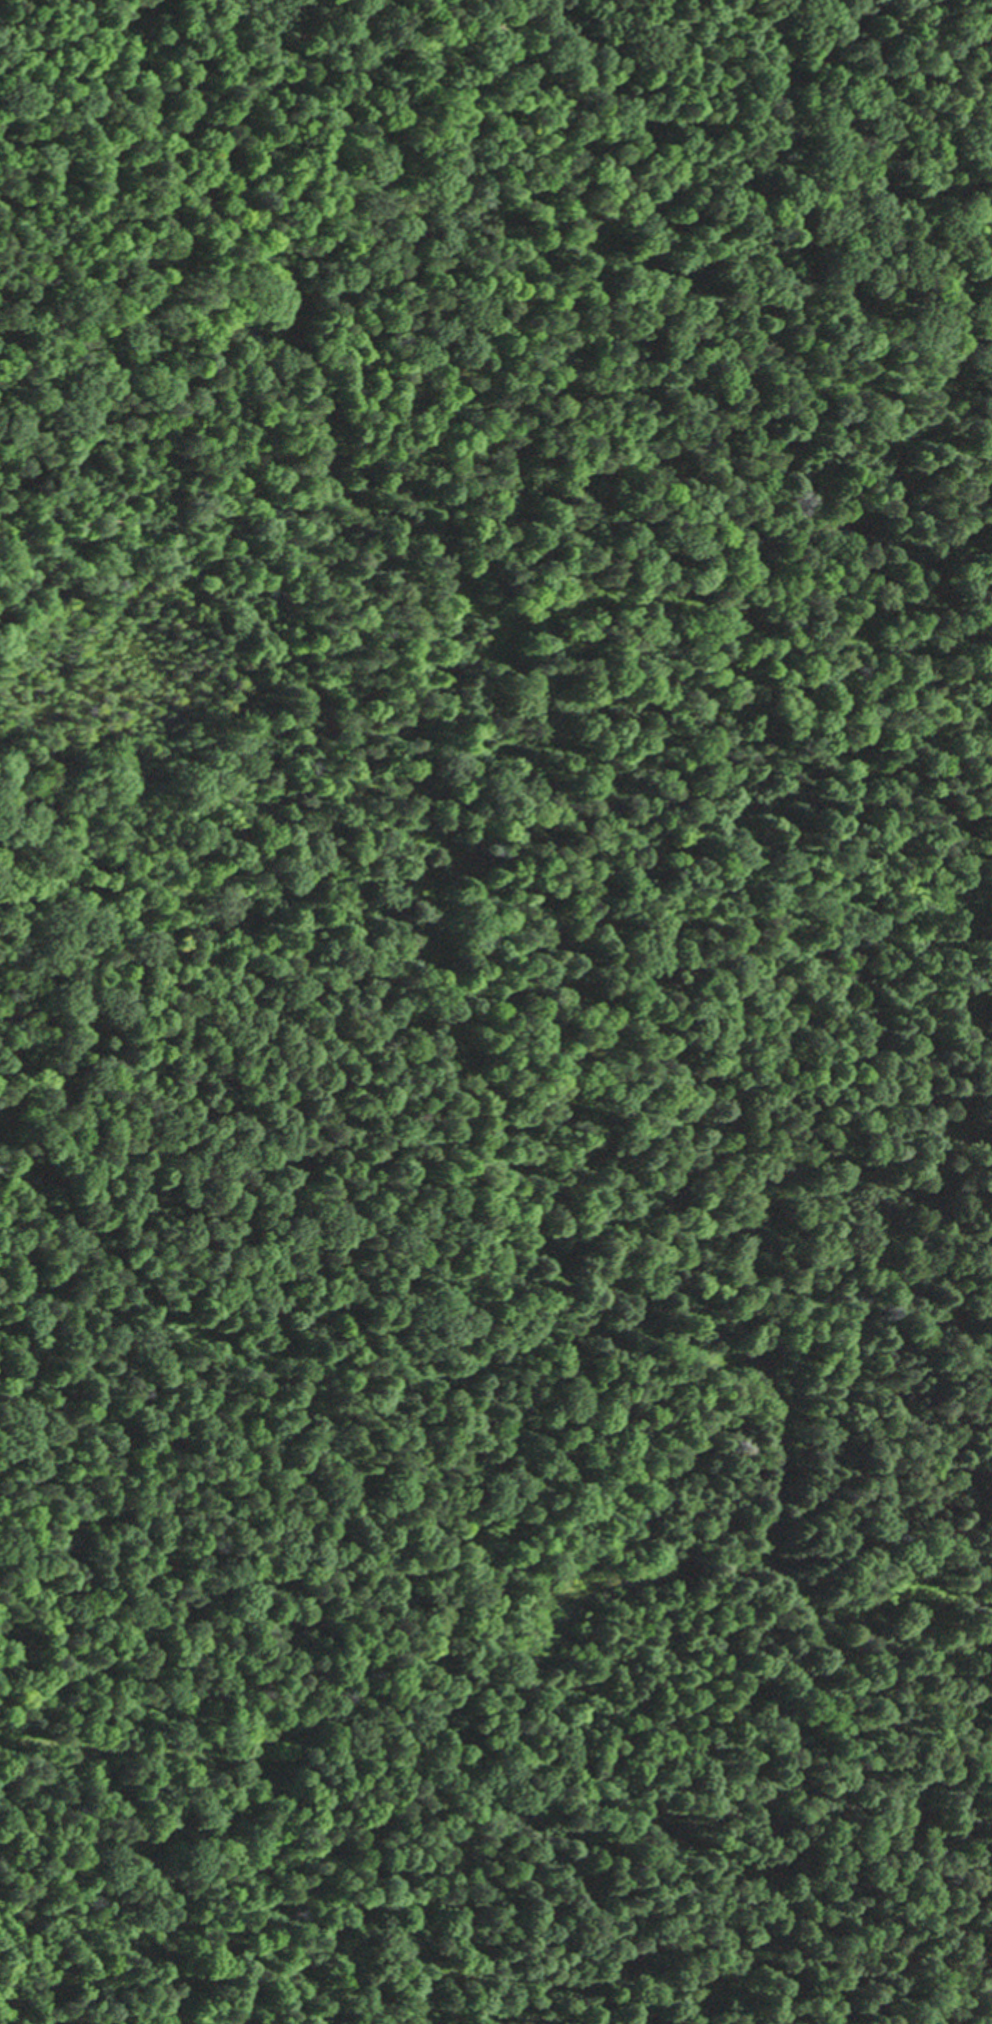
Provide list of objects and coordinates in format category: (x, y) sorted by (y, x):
road: (317, 150)
road: (518, 800)
road: (507, 1744)
road: (883, 1952)

